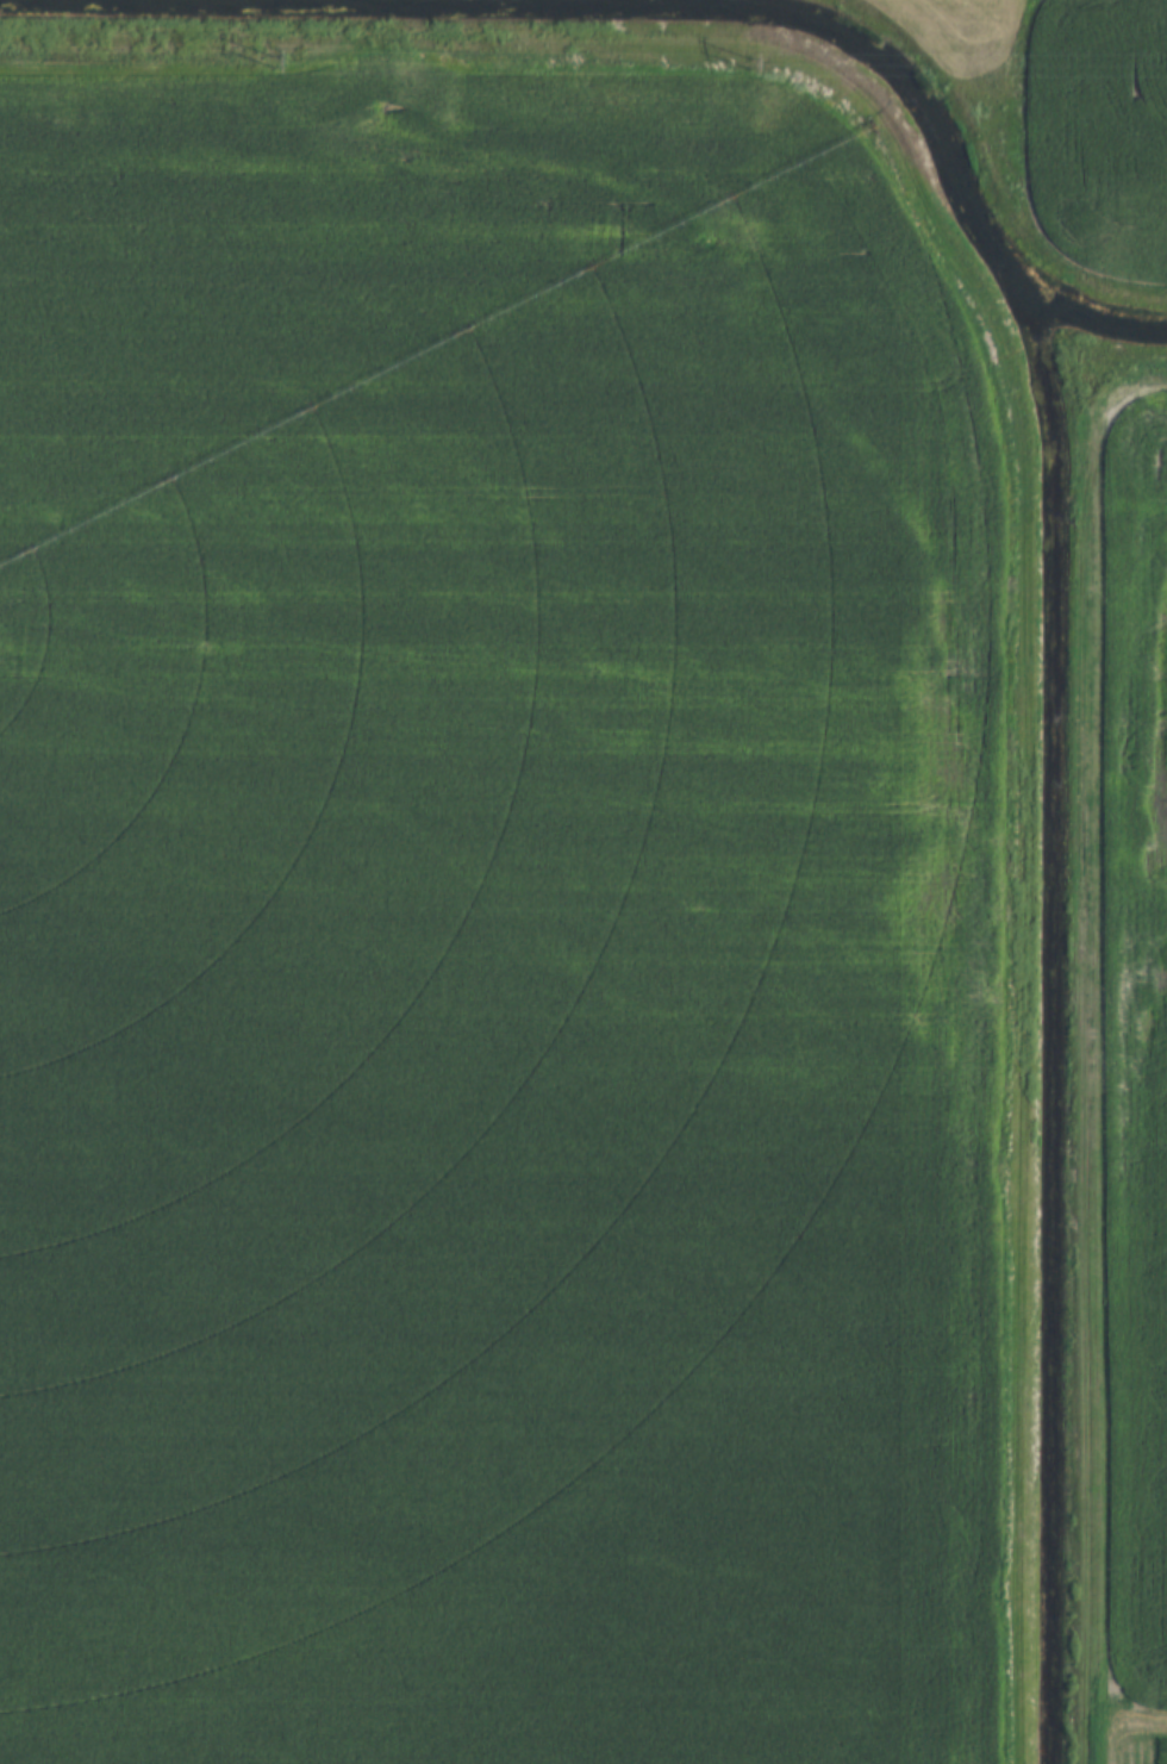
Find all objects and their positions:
power tower: (588, 66)

